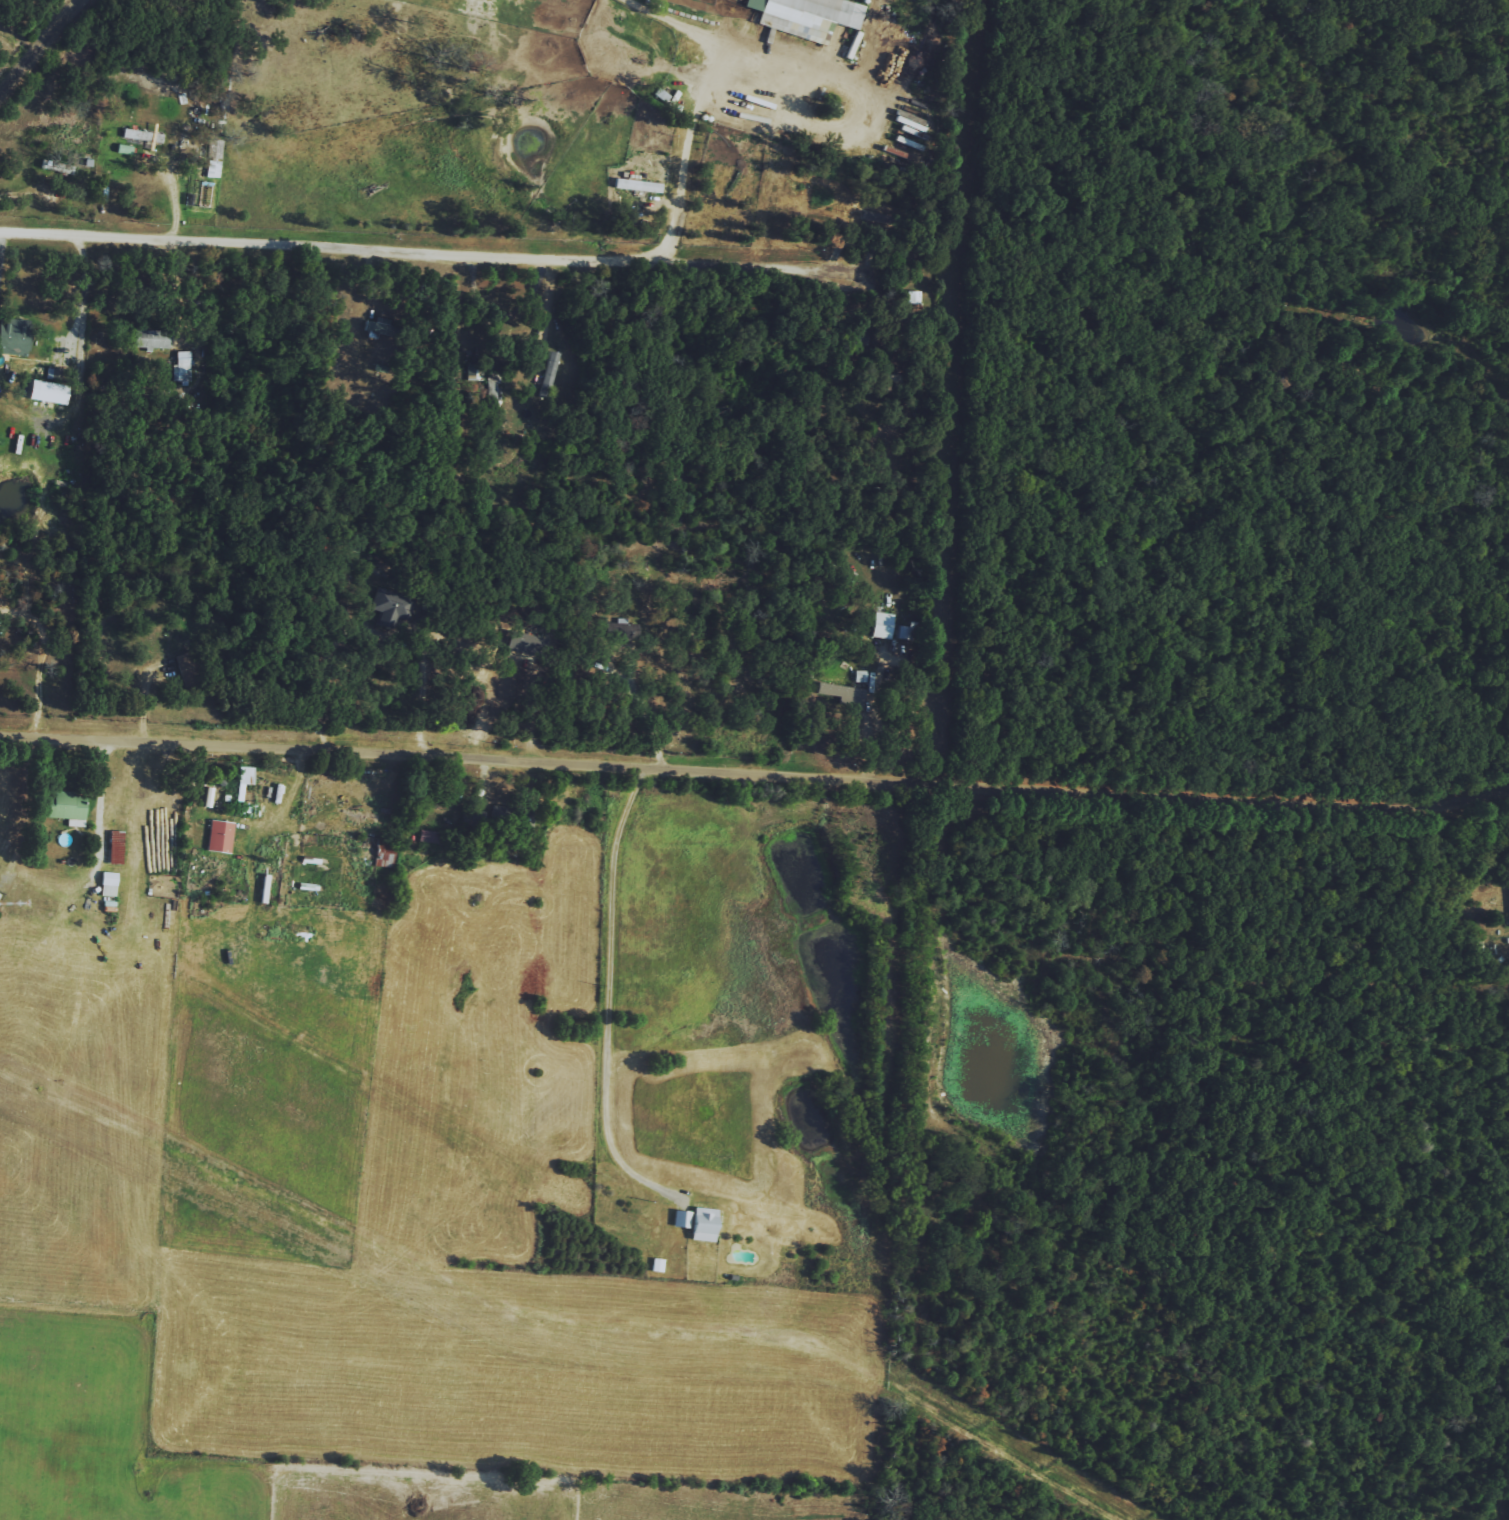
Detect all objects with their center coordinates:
building: (806, 15)
road: (707, 34)
road: (35, 42)
building: (849, 50)
building: (831, 105)
road: (688, 148)
building: (636, 184)
road: (174, 199)
road: (0, 246)
road: (423, 254)
road: (85, 297)
road: (558, 306)
building: (13, 337)
building: (149, 339)
building: (547, 374)
building: (46, 387)
building: (21, 390)
building: (389, 603)
building: (879, 624)
building: (621, 629)
road: (41, 667)
road: (420, 686)
building: (840, 692)
road: (645, 711)
road: (755, 772)
building: (244, 775)
road: (287, 797)
road: (100, 798)
building: (61, 805)
building: (218, 835)
building: (427, 836)
building: (384, 852)
building: (107, 883)
road: (609, 991)
building: (696, 1222)
building: (656, 1265)

